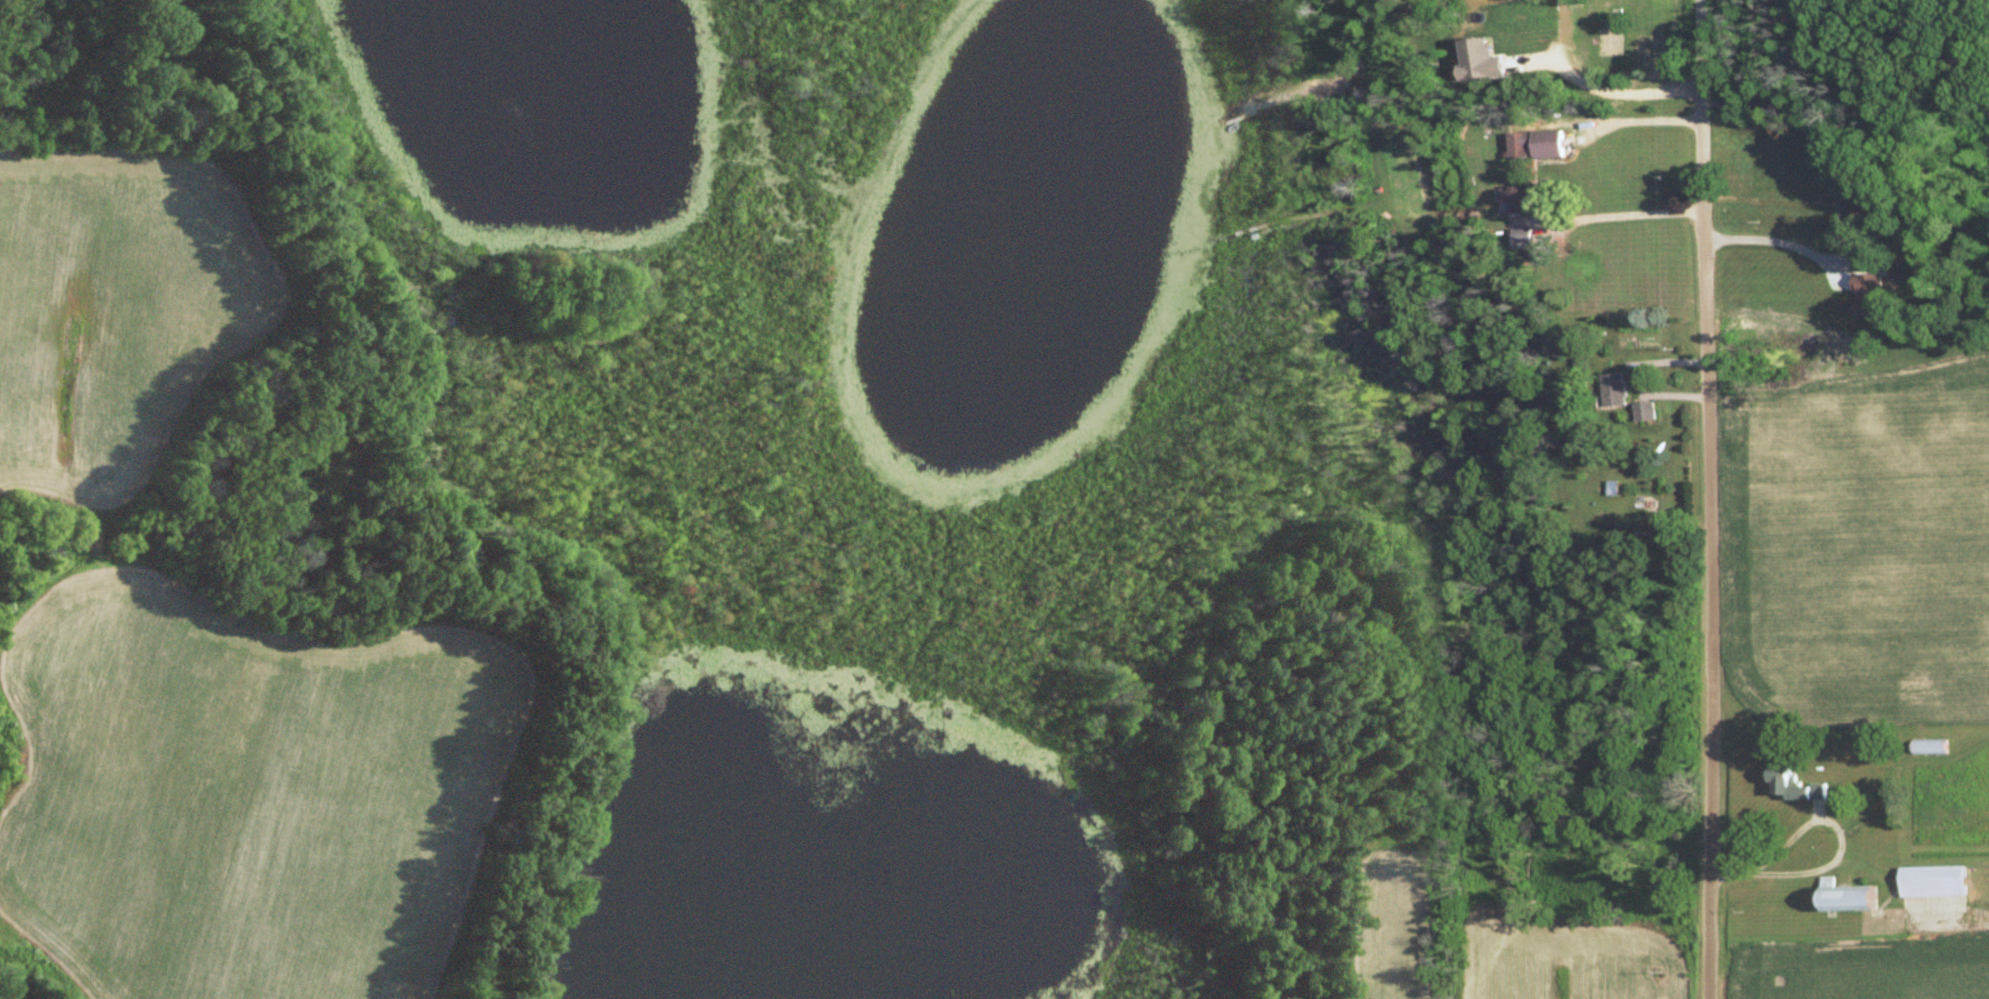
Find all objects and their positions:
road: (1595, 87)
road: (1646, 119)
building: (1548, 146)
building: (1519, 147)
building: (1518, 201)
road: (1637, 212)
building: (1867, 212)
road: (1766, 237)
building: (1524, 241)
building: (1868, 295)
building: (1615, 392)
building: (1645, 414)
road: (1707, 499)
building: (1929, 748)
building: (1795, 788)
road: (1840, 853)
building: (1933, 882)
building: (1849, 899)

